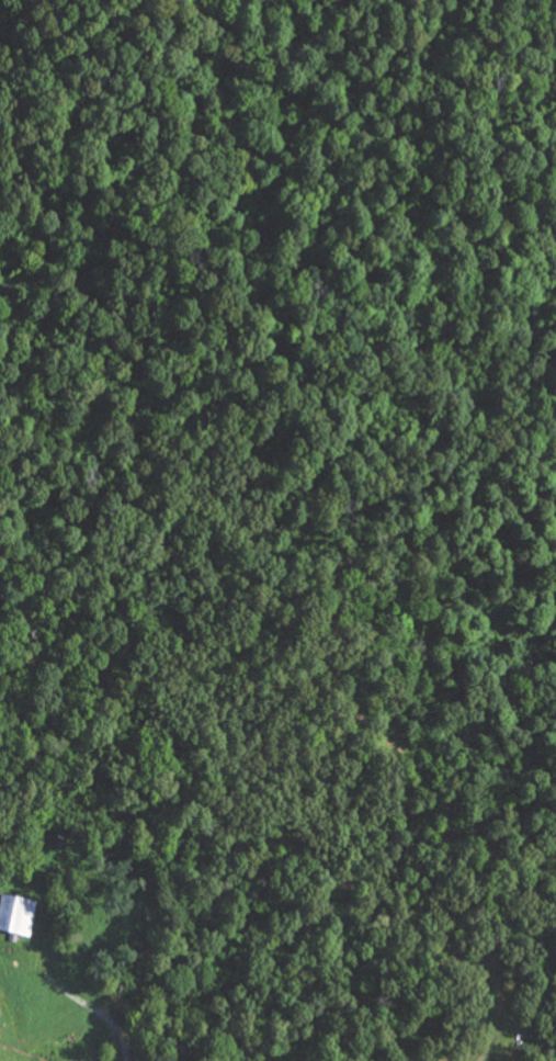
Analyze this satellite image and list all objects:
building: (16, 917)

